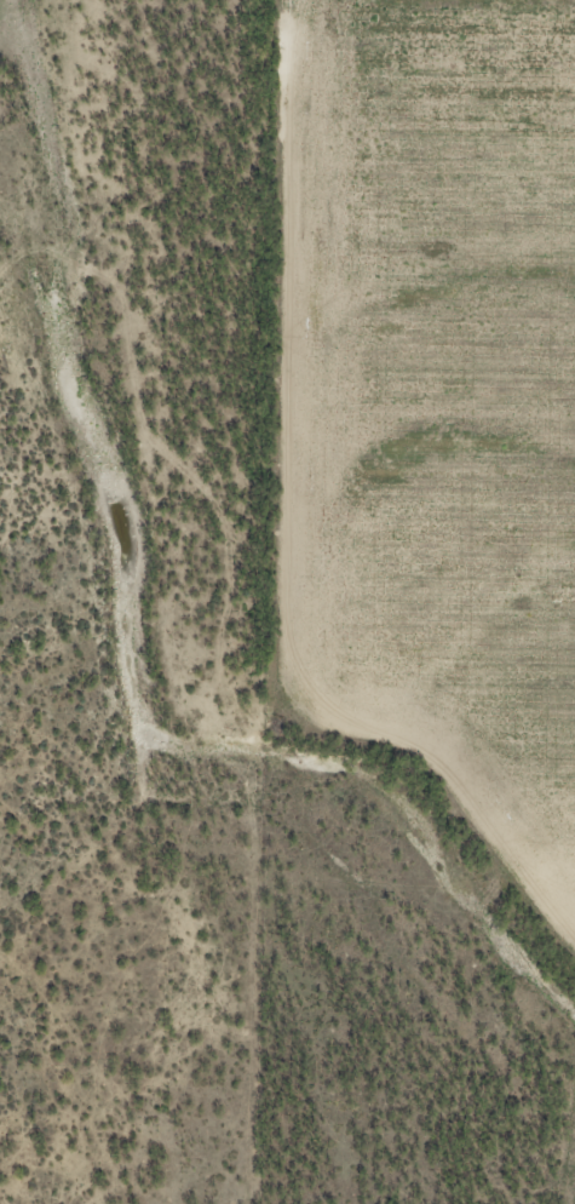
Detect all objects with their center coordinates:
crop: (433, 397)
road: (168, 449)

